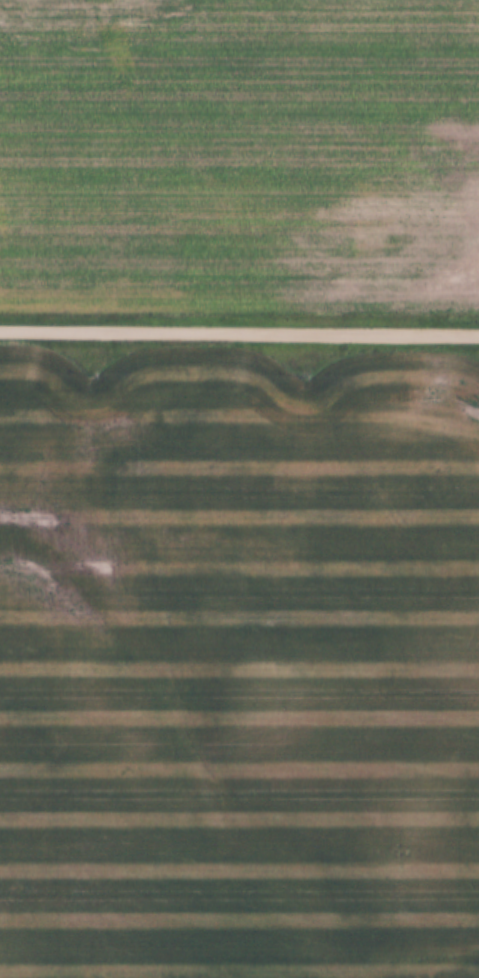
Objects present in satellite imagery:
road: (239, 335)

